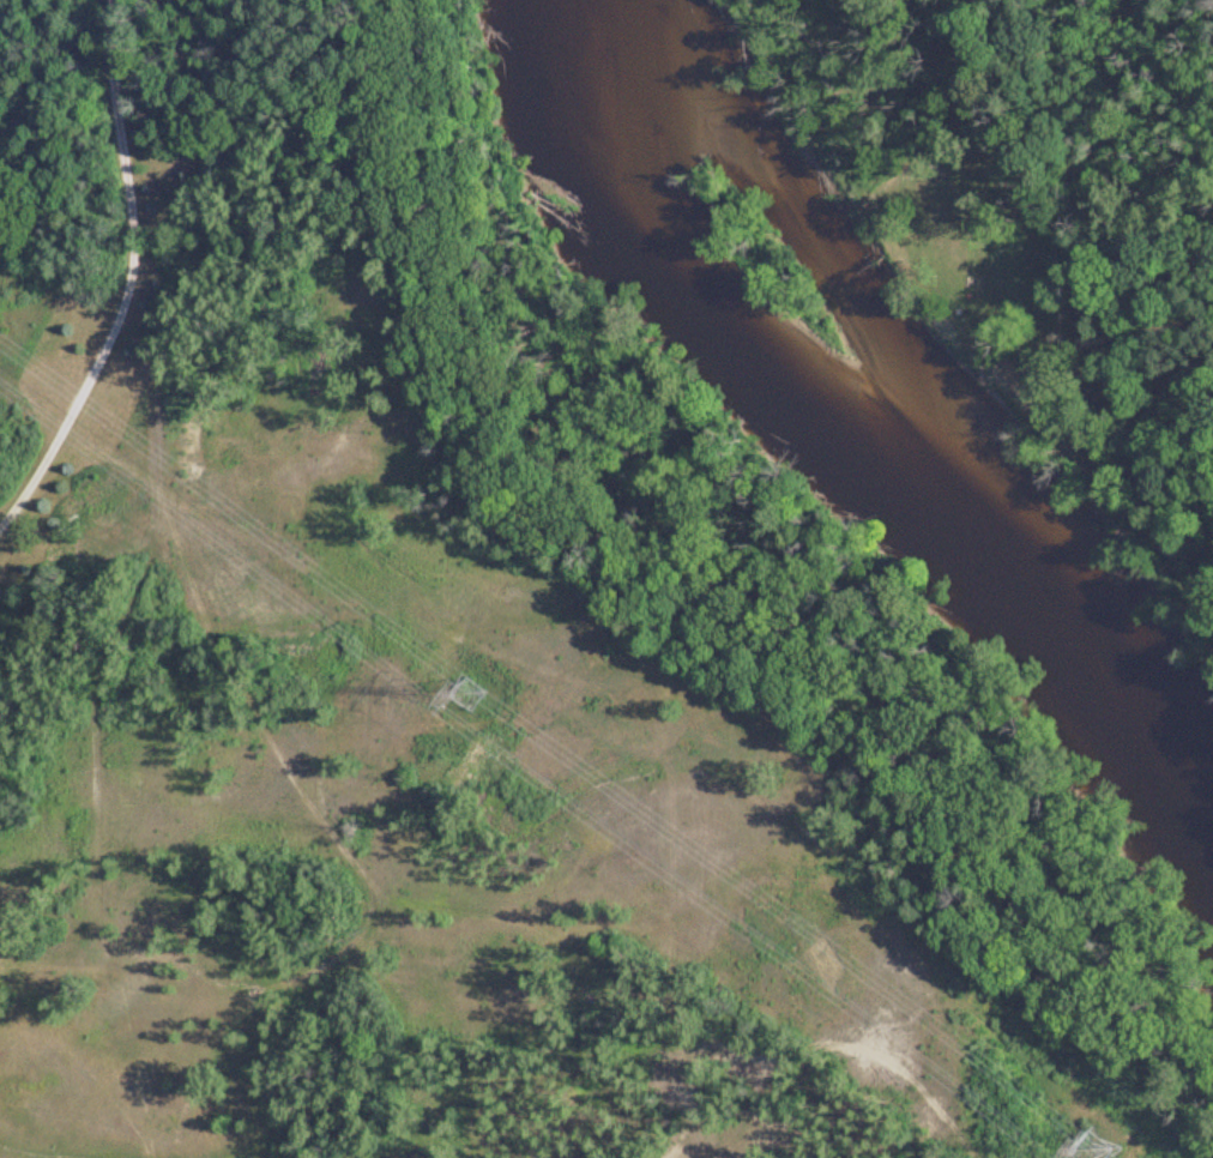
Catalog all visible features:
road: (72, 397)
river: (868, 439)
road: (173, 487)
power tower: (465, 689)
power tower: (1088, 1147)

